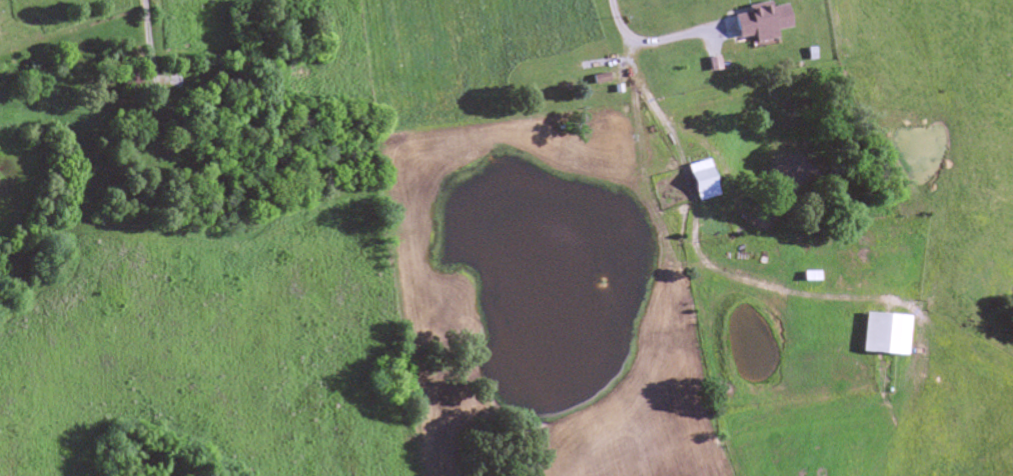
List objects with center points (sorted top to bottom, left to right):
building: (756, 22)
building: (0, 33)
building: (596, 79)
road: (681, 149)
building: (698, 181)
building: (807, 276)
building: (881, 334)

